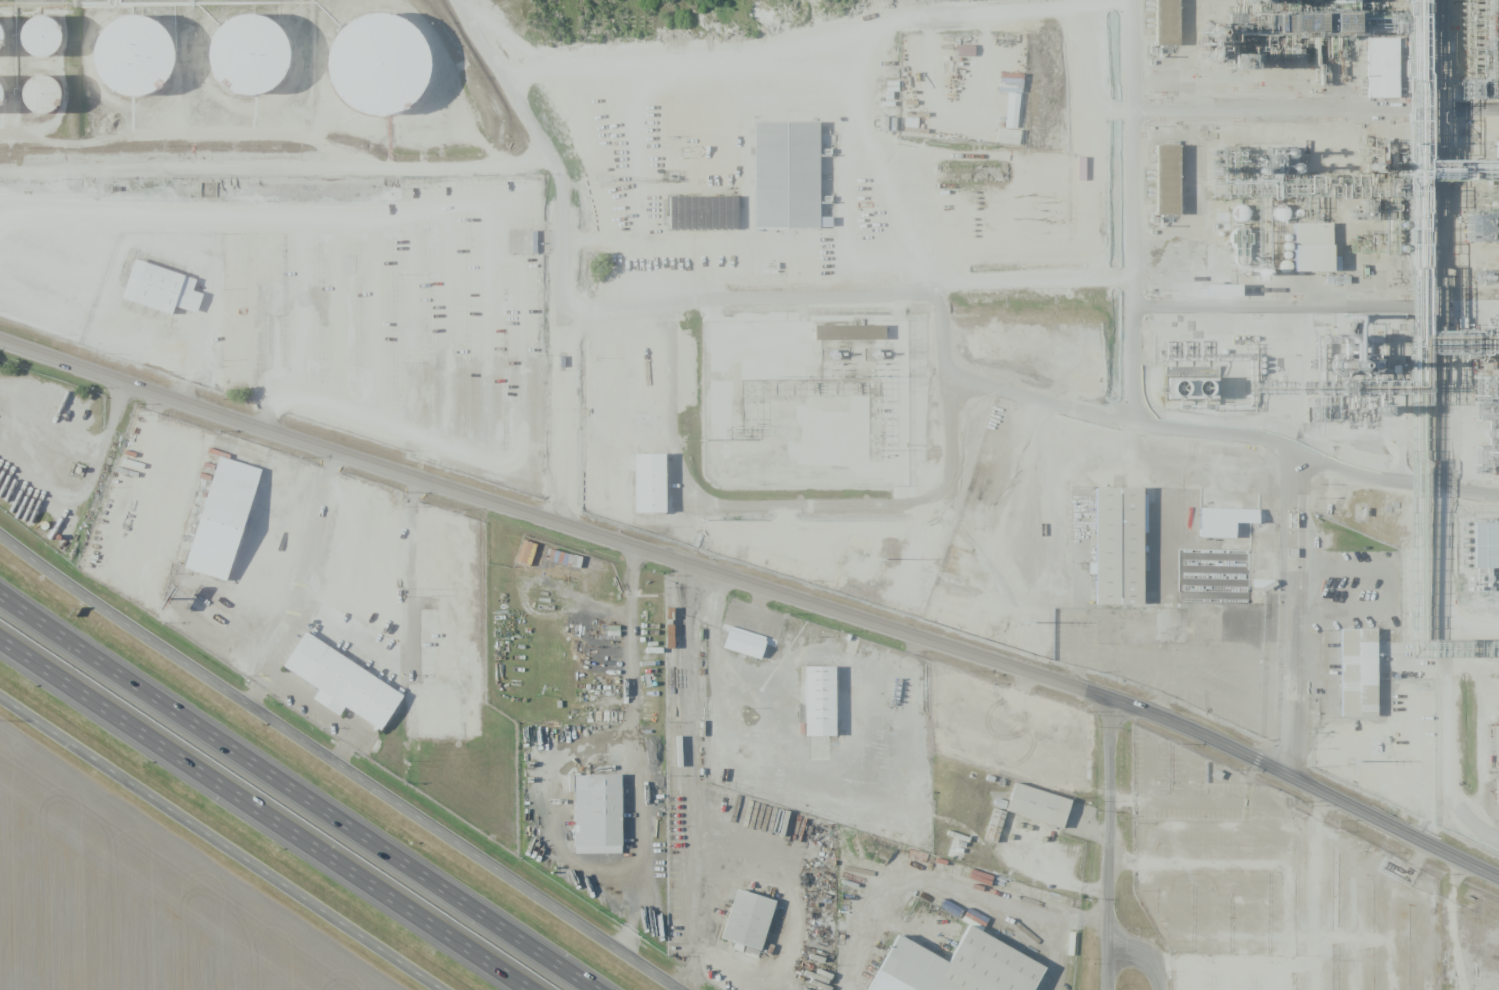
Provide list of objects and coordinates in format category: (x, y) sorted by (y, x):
building: (1339, 1)
building: (1354, 5)
building: (1166, 22)
building: (1178, 24)
building: (52, 45)
storage tank: (52, 45)
building: (6, 46)
storage tank: (6, 46)
building: (259, 63)
storage tank: (259, 63)
building: (142, 65)
storage tank: (142, 65)
building: (1382, 68)
building: (393, 71)
storage tank: (393, 71)
building: (40, 94)
building: (55, 104)
storage tank: (55, 104)
building: (7, 105)
storage tank: (7, 105)
building: (702, 119)
building: (1497, 149)
building: (718, 154)
road: (277, 166)
building: (718, 177)
building: (792, 180)
power tower: (604, 181)
building: (1174, 184)
building: (1241, 213)
building: (707, 214)
building: (1280, 214)
building: (1477, 227)
building: (523, 241)
road: (563, 244)
building: (1312, 247)
building: (1324, 266)
road: (1132, 287)
building: (161, 290)
building: (1232, 296)
building: (849, 331)
building: (1190, 388)
power substation: (805, 402)
power tower: (730, 430)
power tower: (700, 440)
power tower: (878, 449)
road: (1390, 481)
building: (657, 487)
building: (610, 488)
road: (558, 518)
power tower: (701, 520)
building: (1223, 521)
building: (227, 522)
building: (1125, 551)
building: (1492, 552)
power tower: (878, 558)
building: (1248, 563)
building: (1248, 617)
road: (1288, 619)
power tower: (1025, 623)
building: (1154, 625)
building: (438, 646)
building: (749, 646)
building: (1365, 677)
building: (348, 683)
building: (825, 705)
building: (441, 716)
power tower: (1347, 760)
road: (338, 765)
road: (299, 793)
road: (1302, 797)
building: (1043, 808)
road: (265, 813)
building: (597, 814)
road: (224, 842)
road: (1115, 845)
building: (951, 847)
road: (1061, 882)
road: (947, 885)
crop: (133, 899)
road: (696, 913)
building: (751, 923)
road: (1150, 958)
building: (956, 967)

